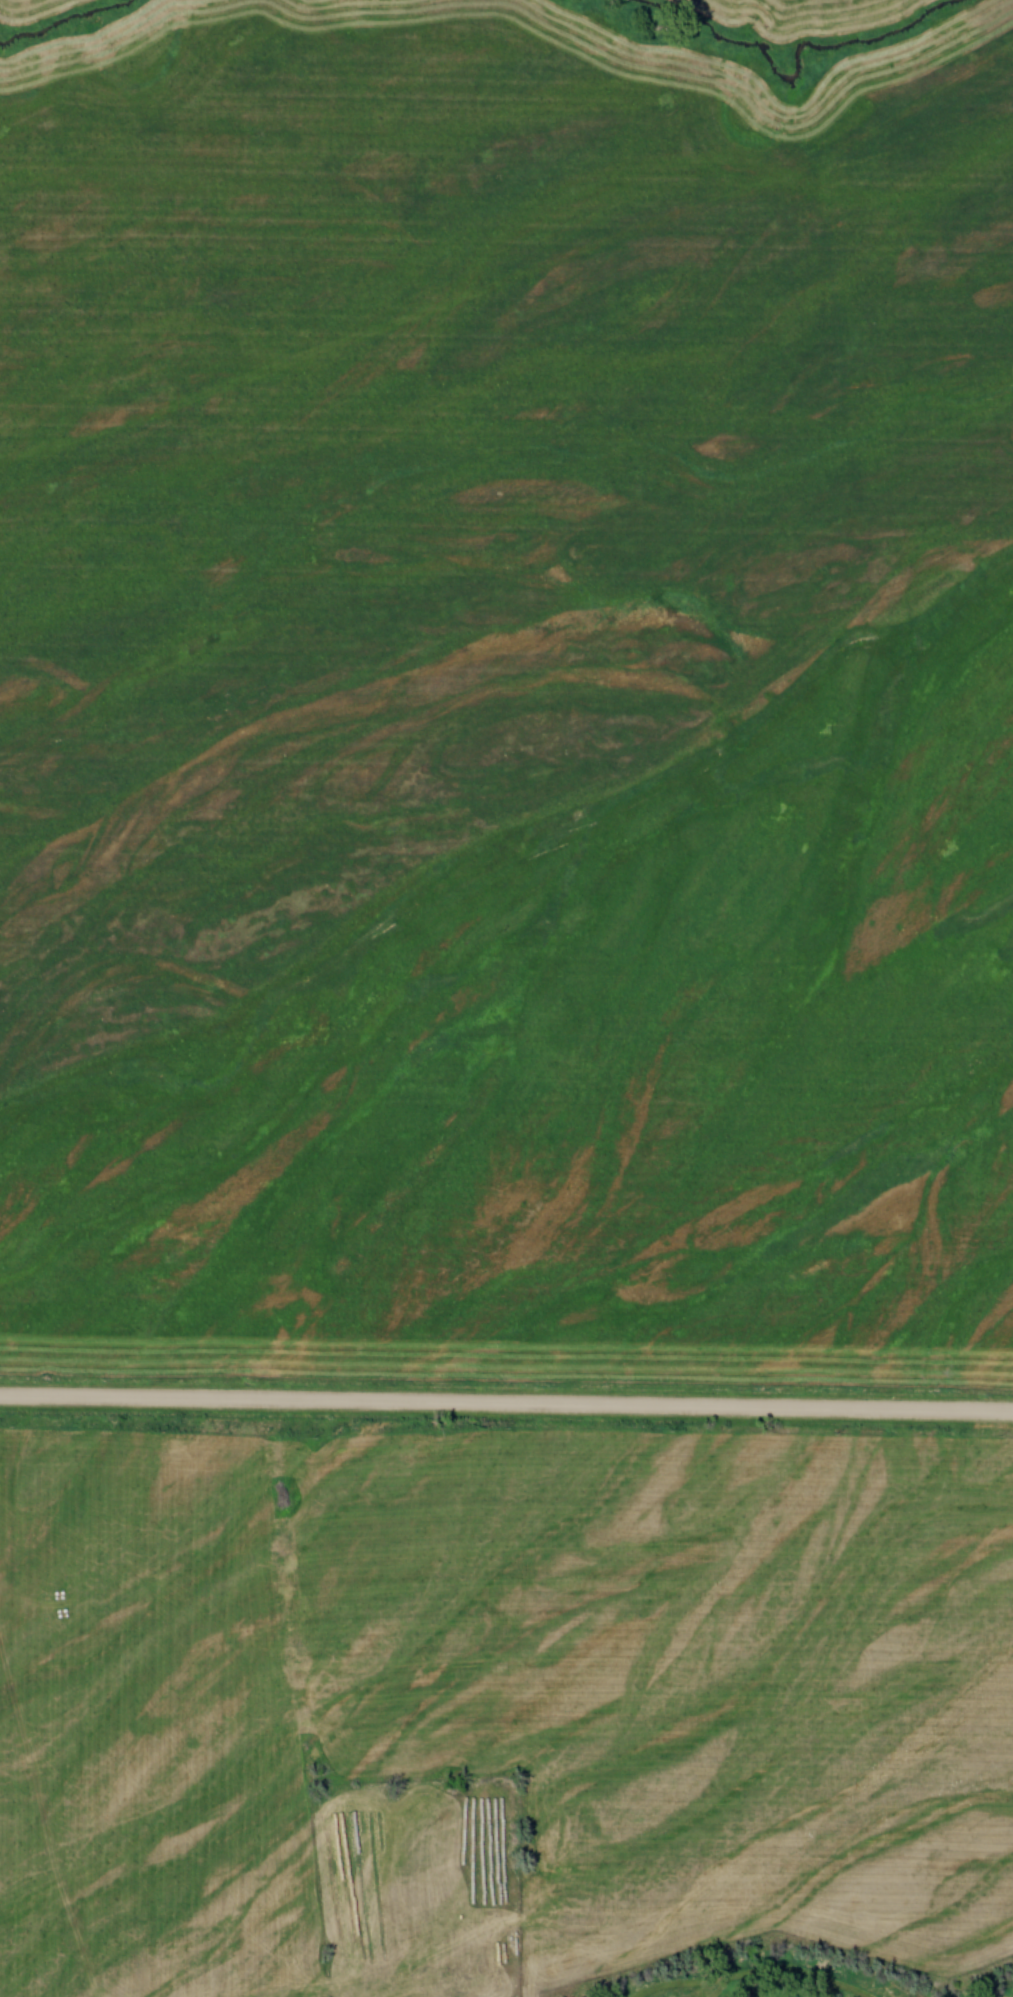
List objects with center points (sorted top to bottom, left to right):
road: (506, 1403)

